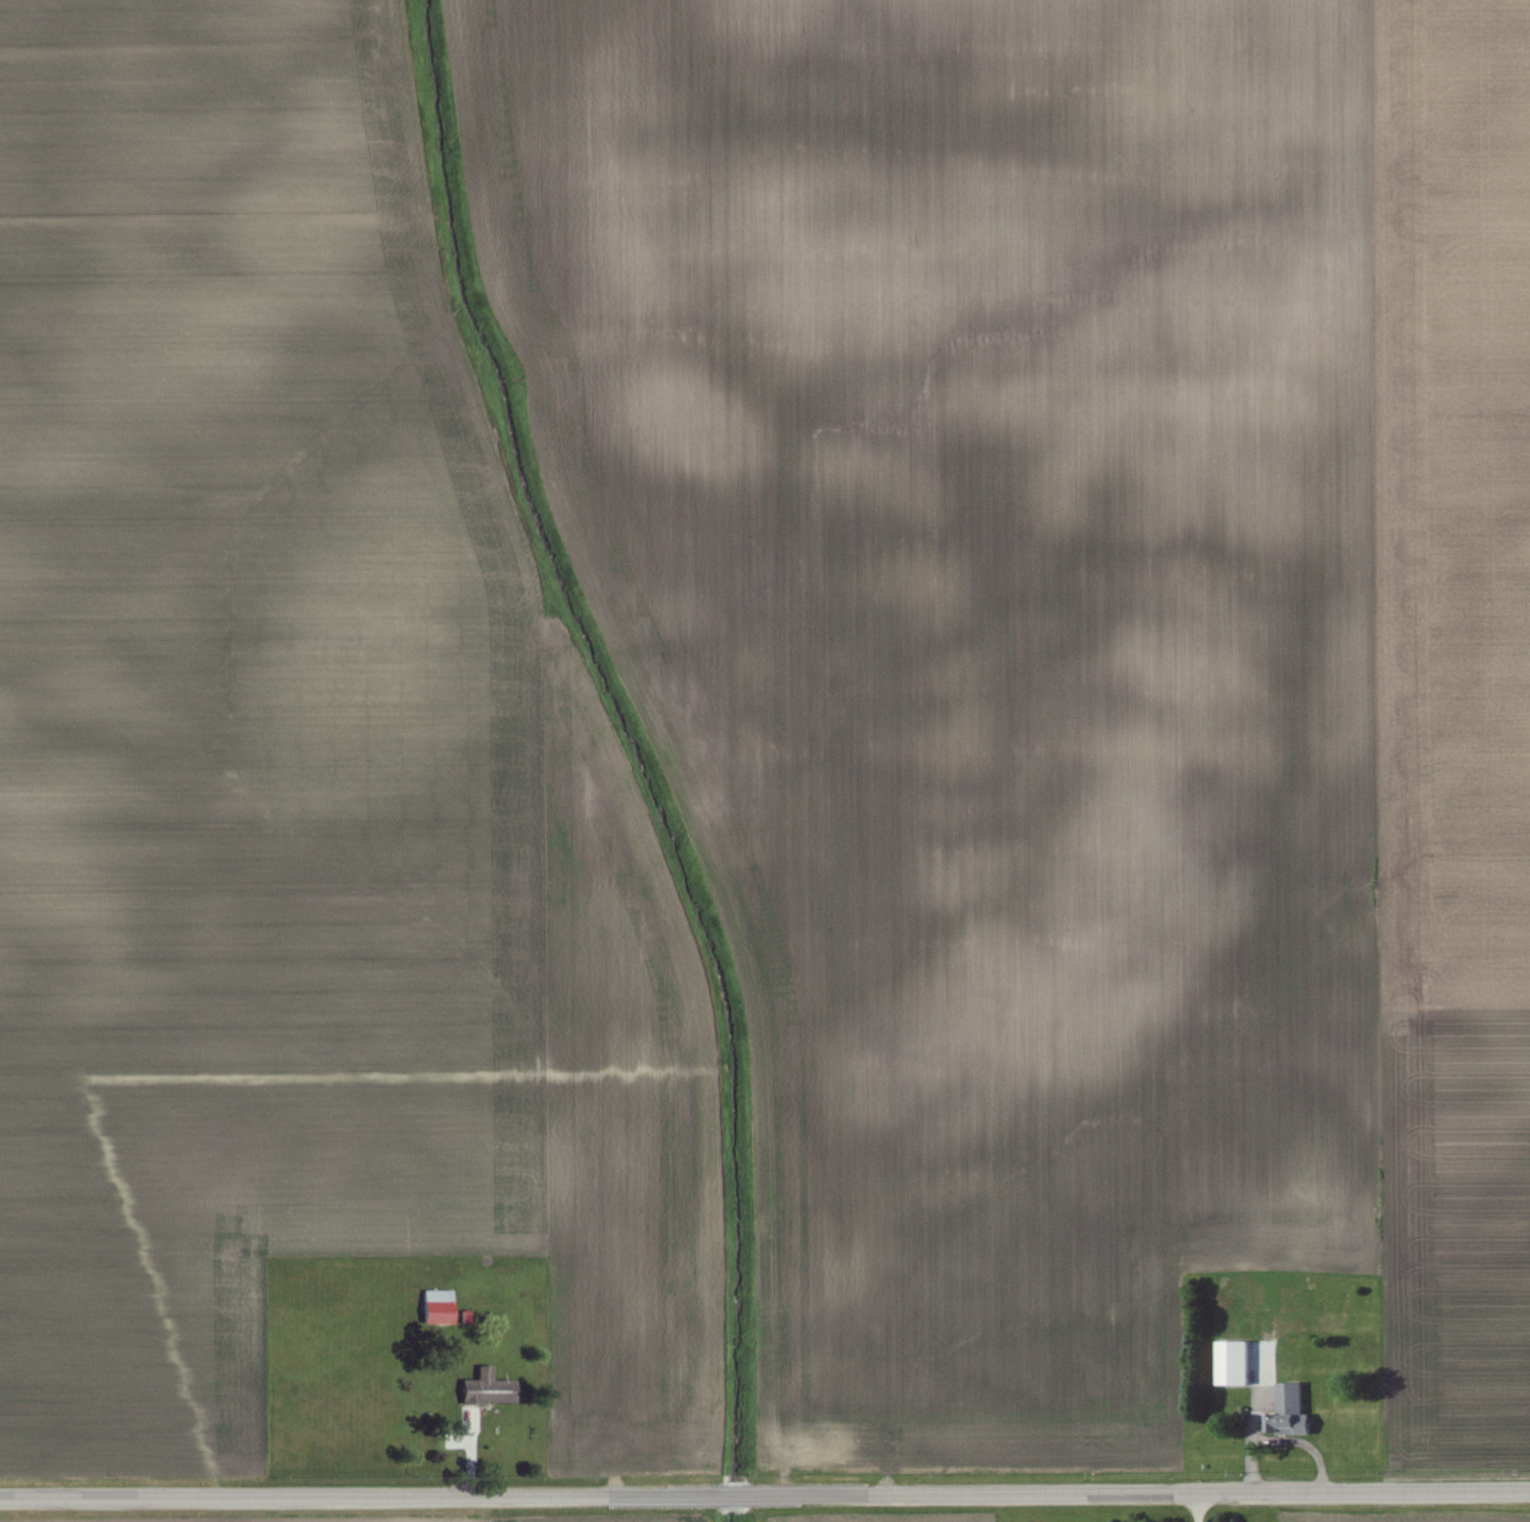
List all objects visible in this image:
building: (436, 1307)
building: (1236, 1363)
building: (482, 1389)
building: (1291, 1411)
road: (765, 1489)
road: (1198, 1505)

